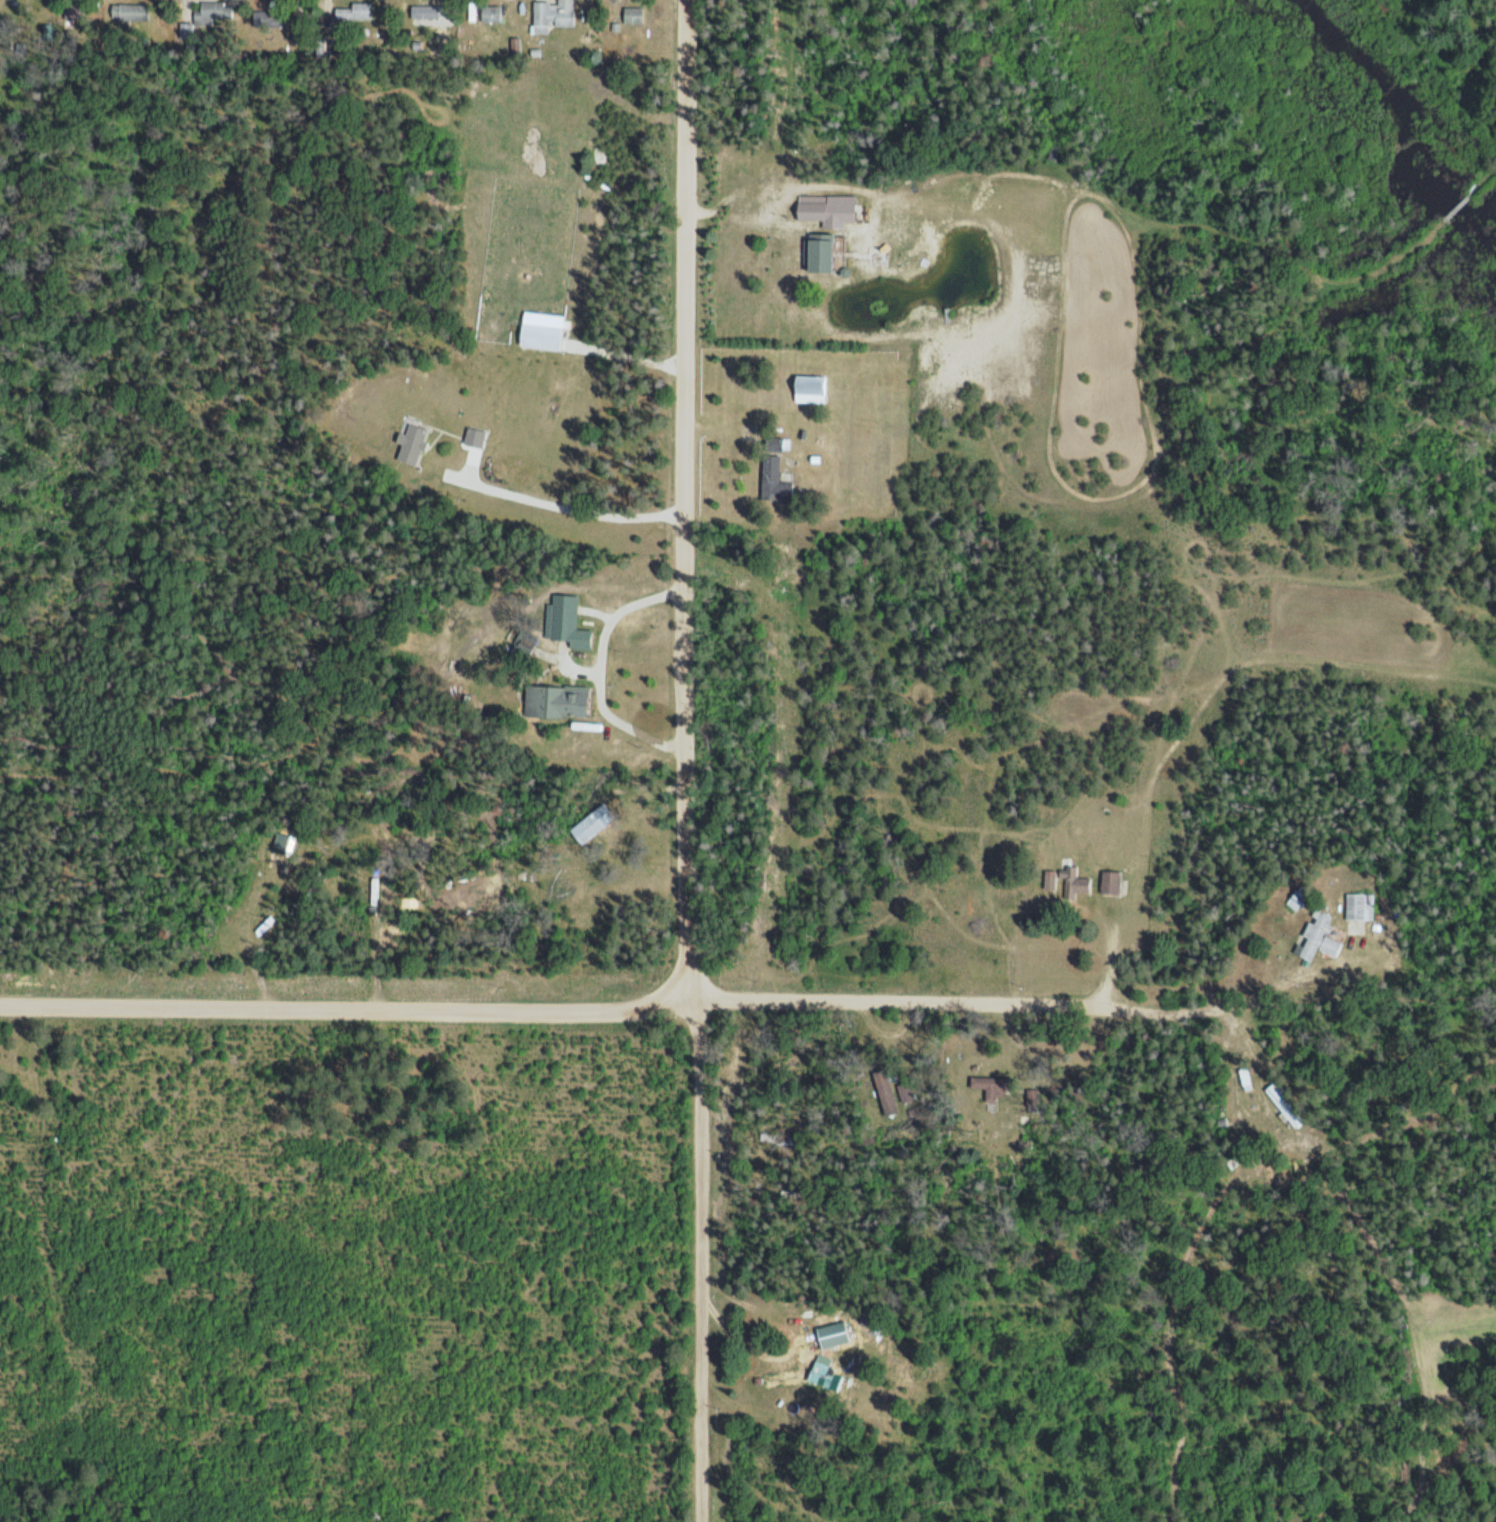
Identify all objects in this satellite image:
building: (213, 10)
building: (128, 11)
building: (353, 11)
building: (423, 11)
building: (489, 11)
building: (631, 14)
building: (550, 15)
building: (265, 17)
building: (821, 223)
building: (539, 335)
building: (808, 388)
building: (473, 437)
building: (409, 443)
building: (771, 472)
building: (566, 621)
building: (520, 649)
building: (554, 700)
road: (685, 761)
building: (590, 823)
building: (1048, 878)
building: (1108, 881)
building: (1072, 882)
building: (1296, 899)
building: (1355, 905)
building: (1315, 936)
road: (747, 999)
building: (1243, 1078)
building: (884, 1090)
building: (1282, 1104)
building: (774, 1136)
building: (830, 1333)
building: (822, 1375)

